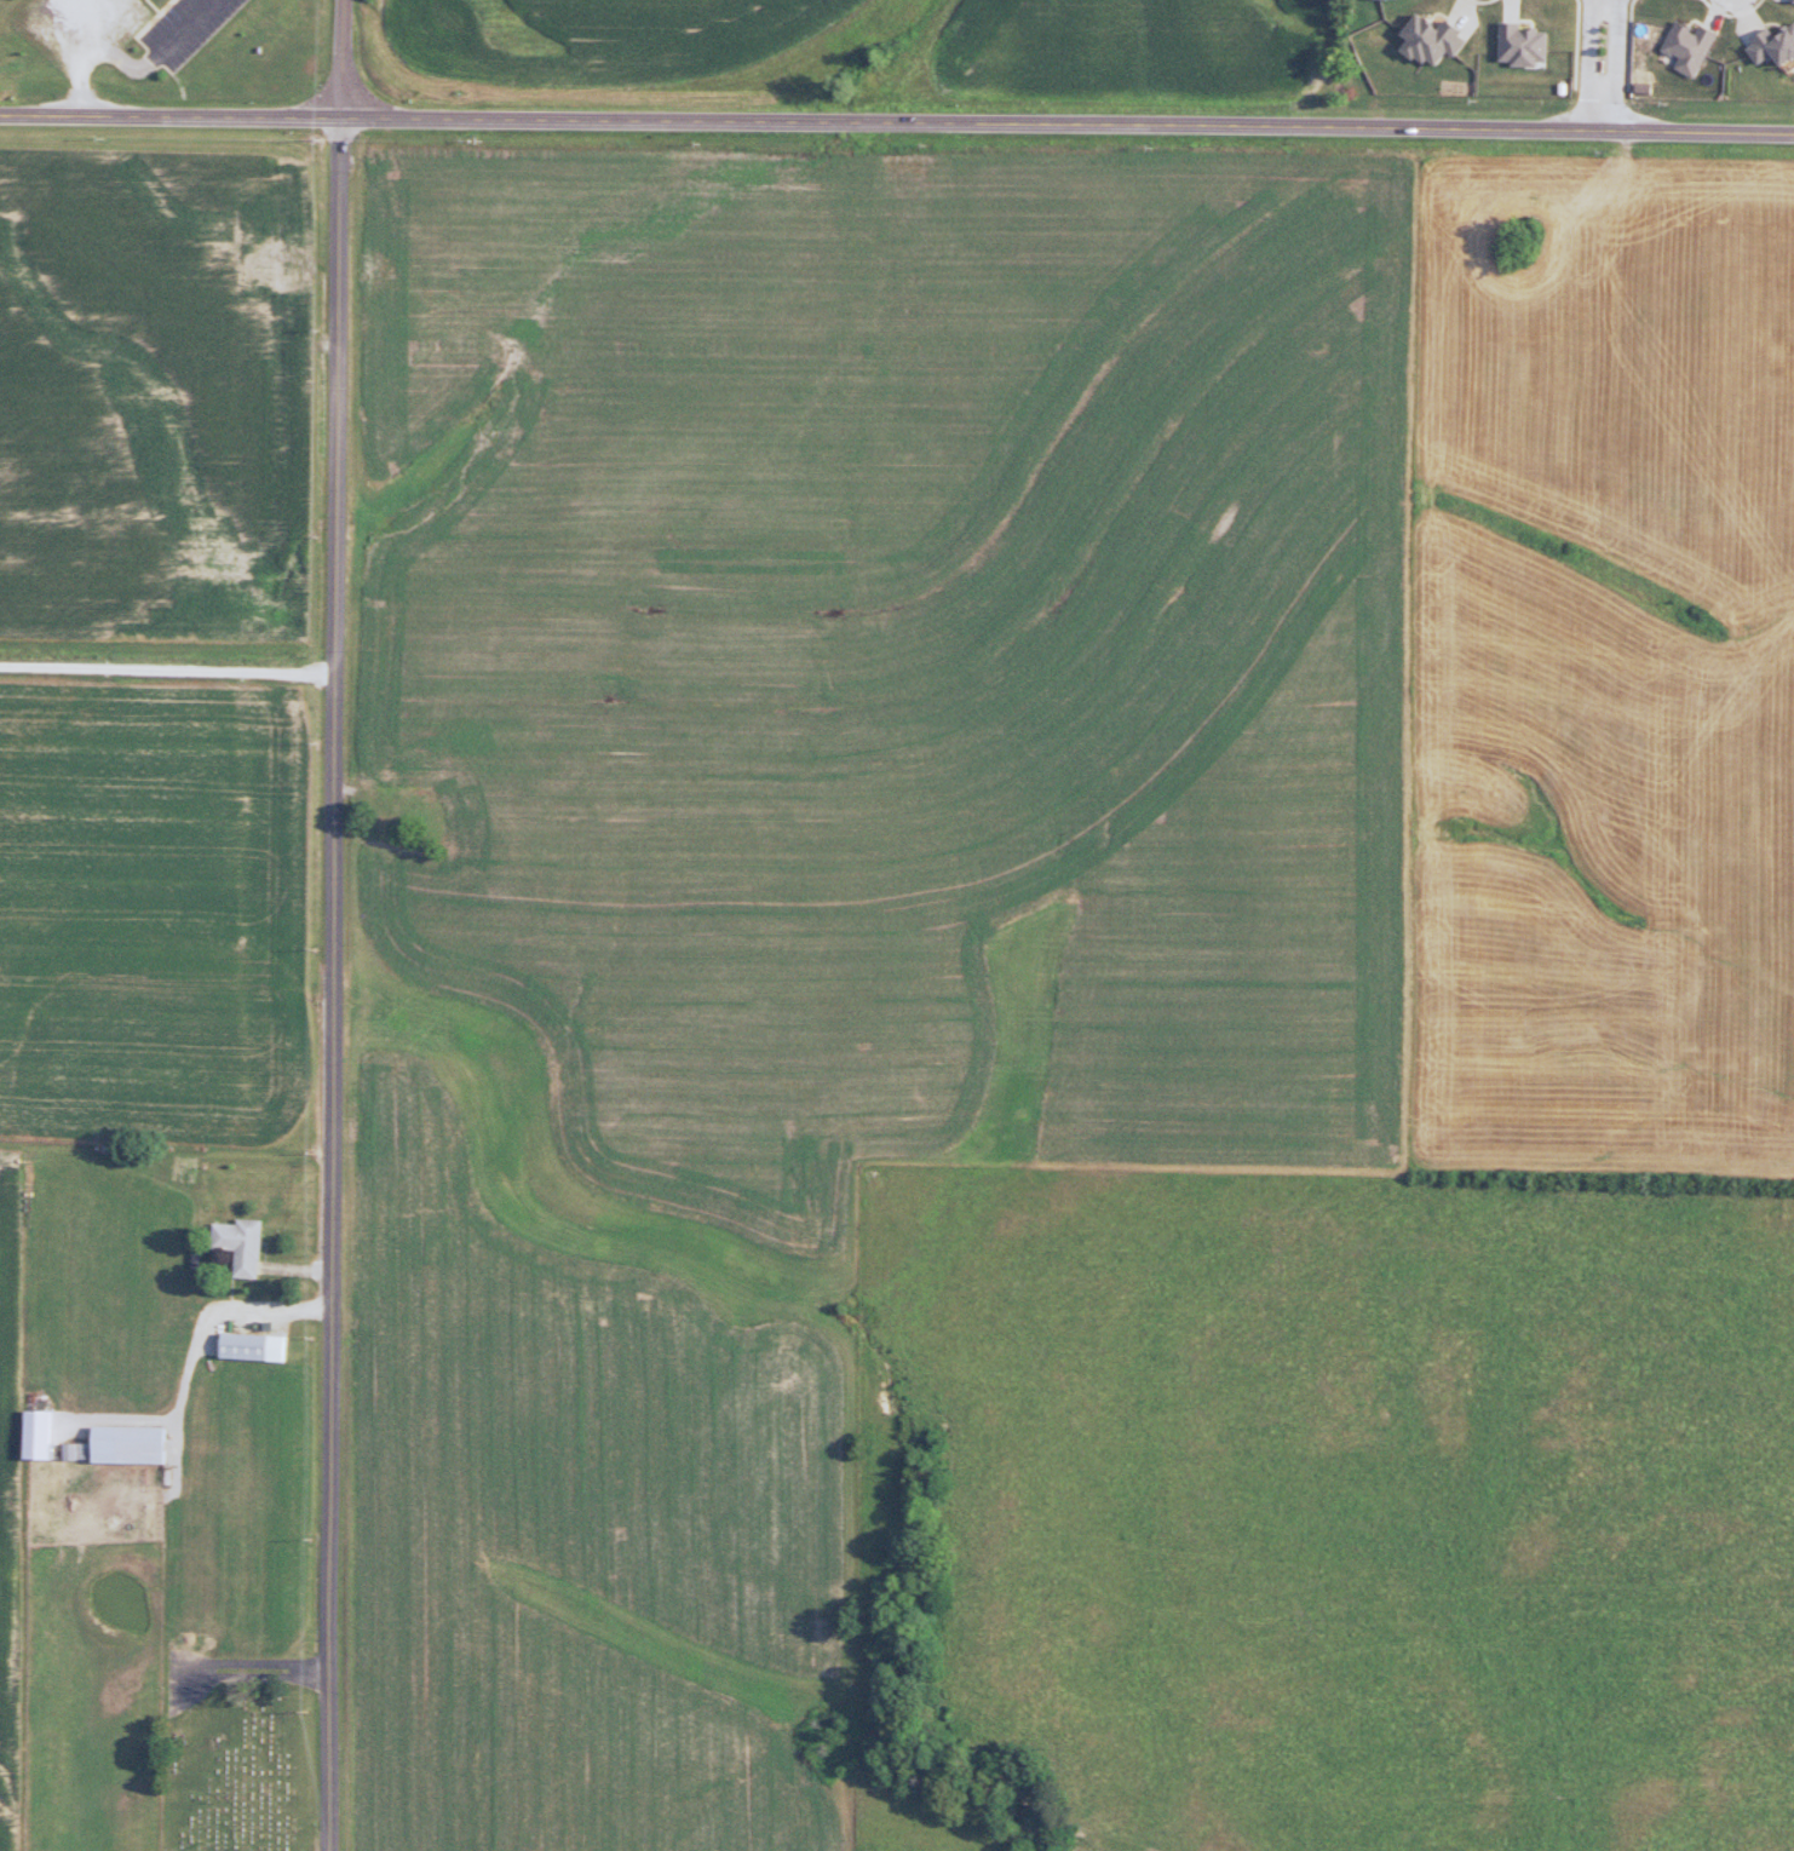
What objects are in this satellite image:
building: (1372, 0)
building: (1434, 41)
building: (1779, 45)
road: (340, 58)
road: (126, 63)
road: (1599, 65)
road: (896, 123)
road: (169, 669)
road: (340, 983)
building: (246, 1246)
building: (255, 1346)
building: (132, 1443)

